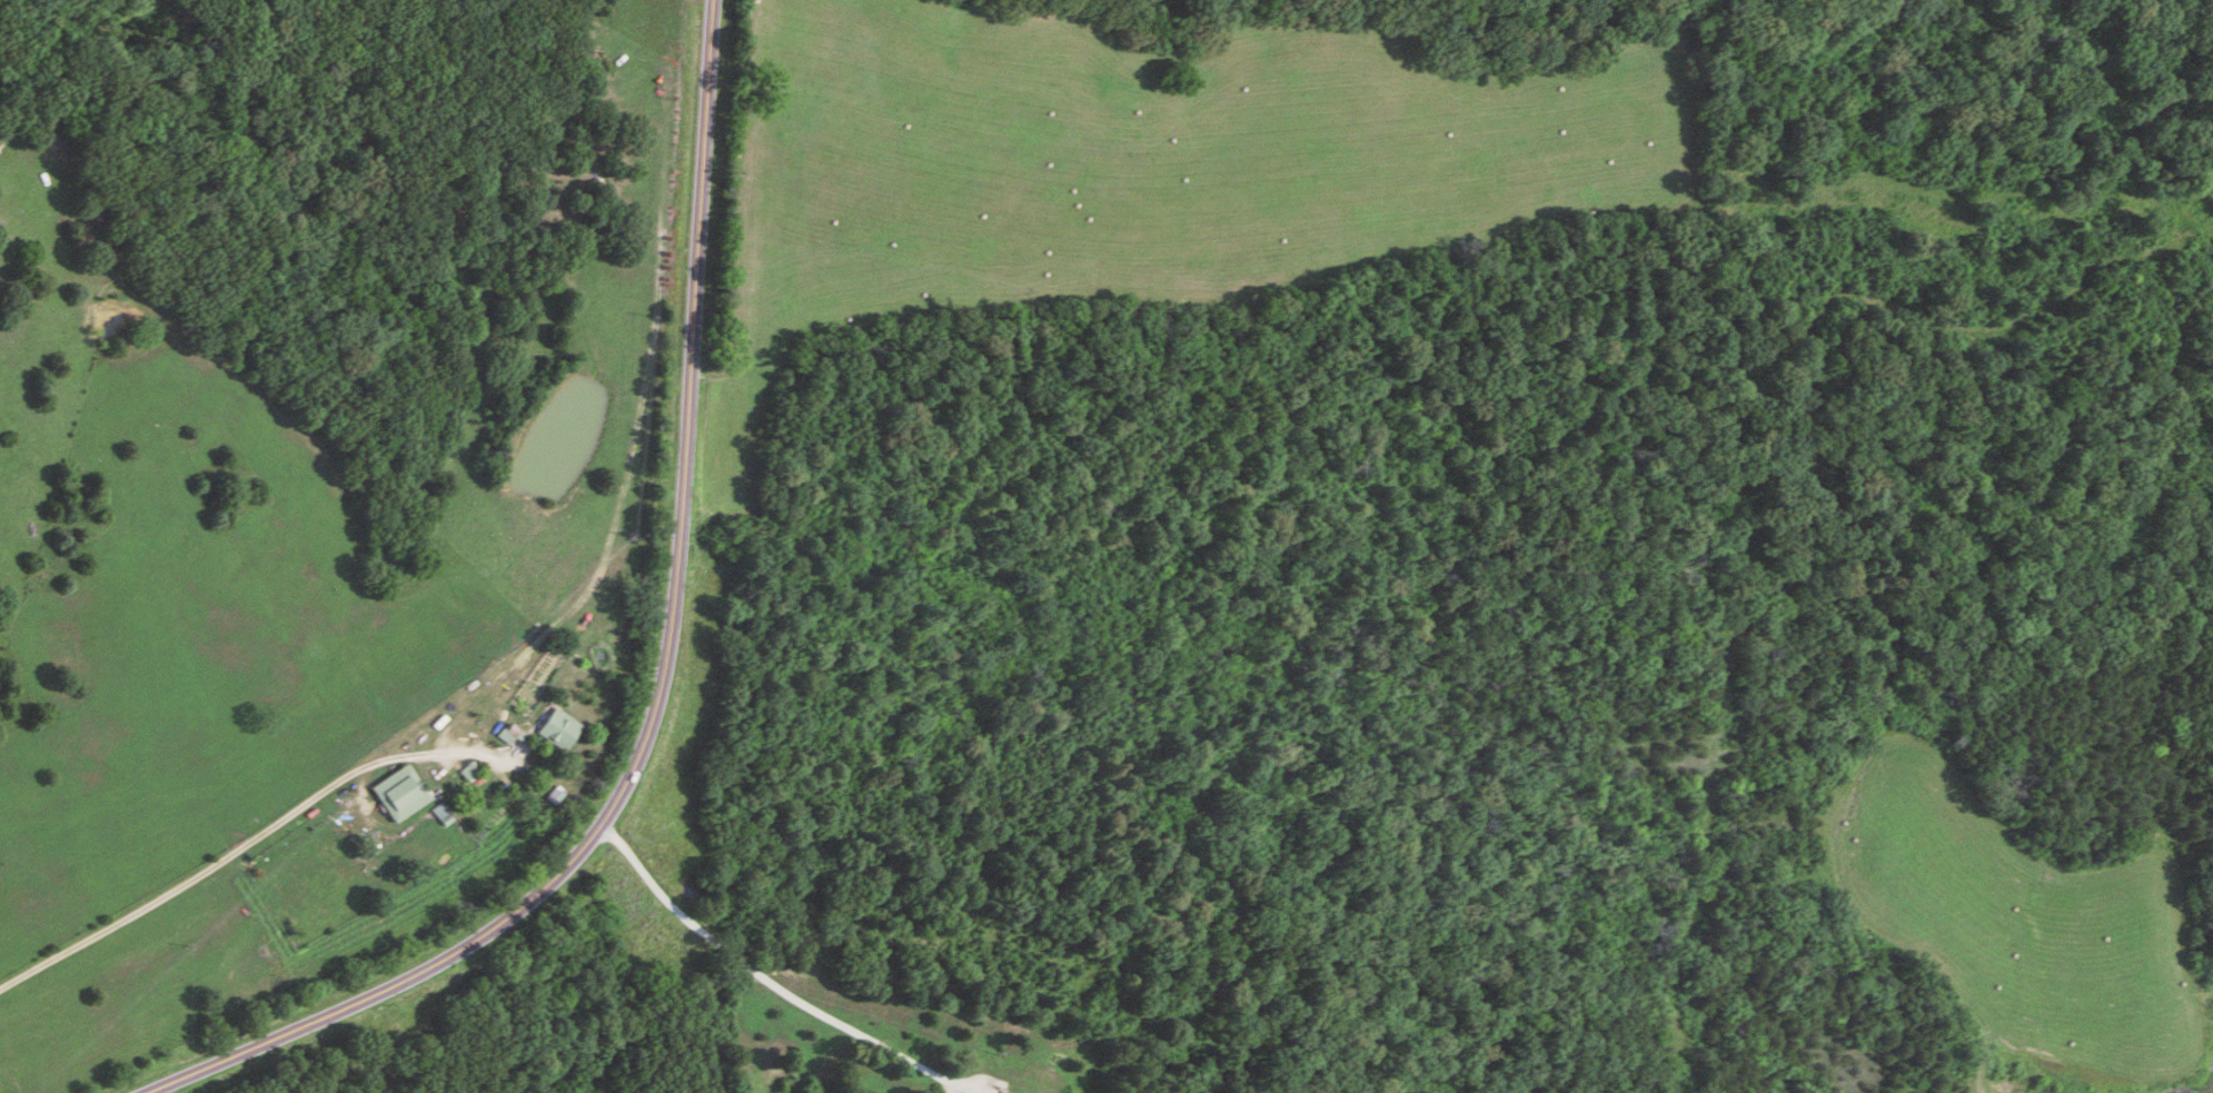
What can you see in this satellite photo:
road: (663, 680)
building: (559, 729)
building: (401, 794)
road: (246, 842)
road: (755, 974)
building: (1002, 1092)

